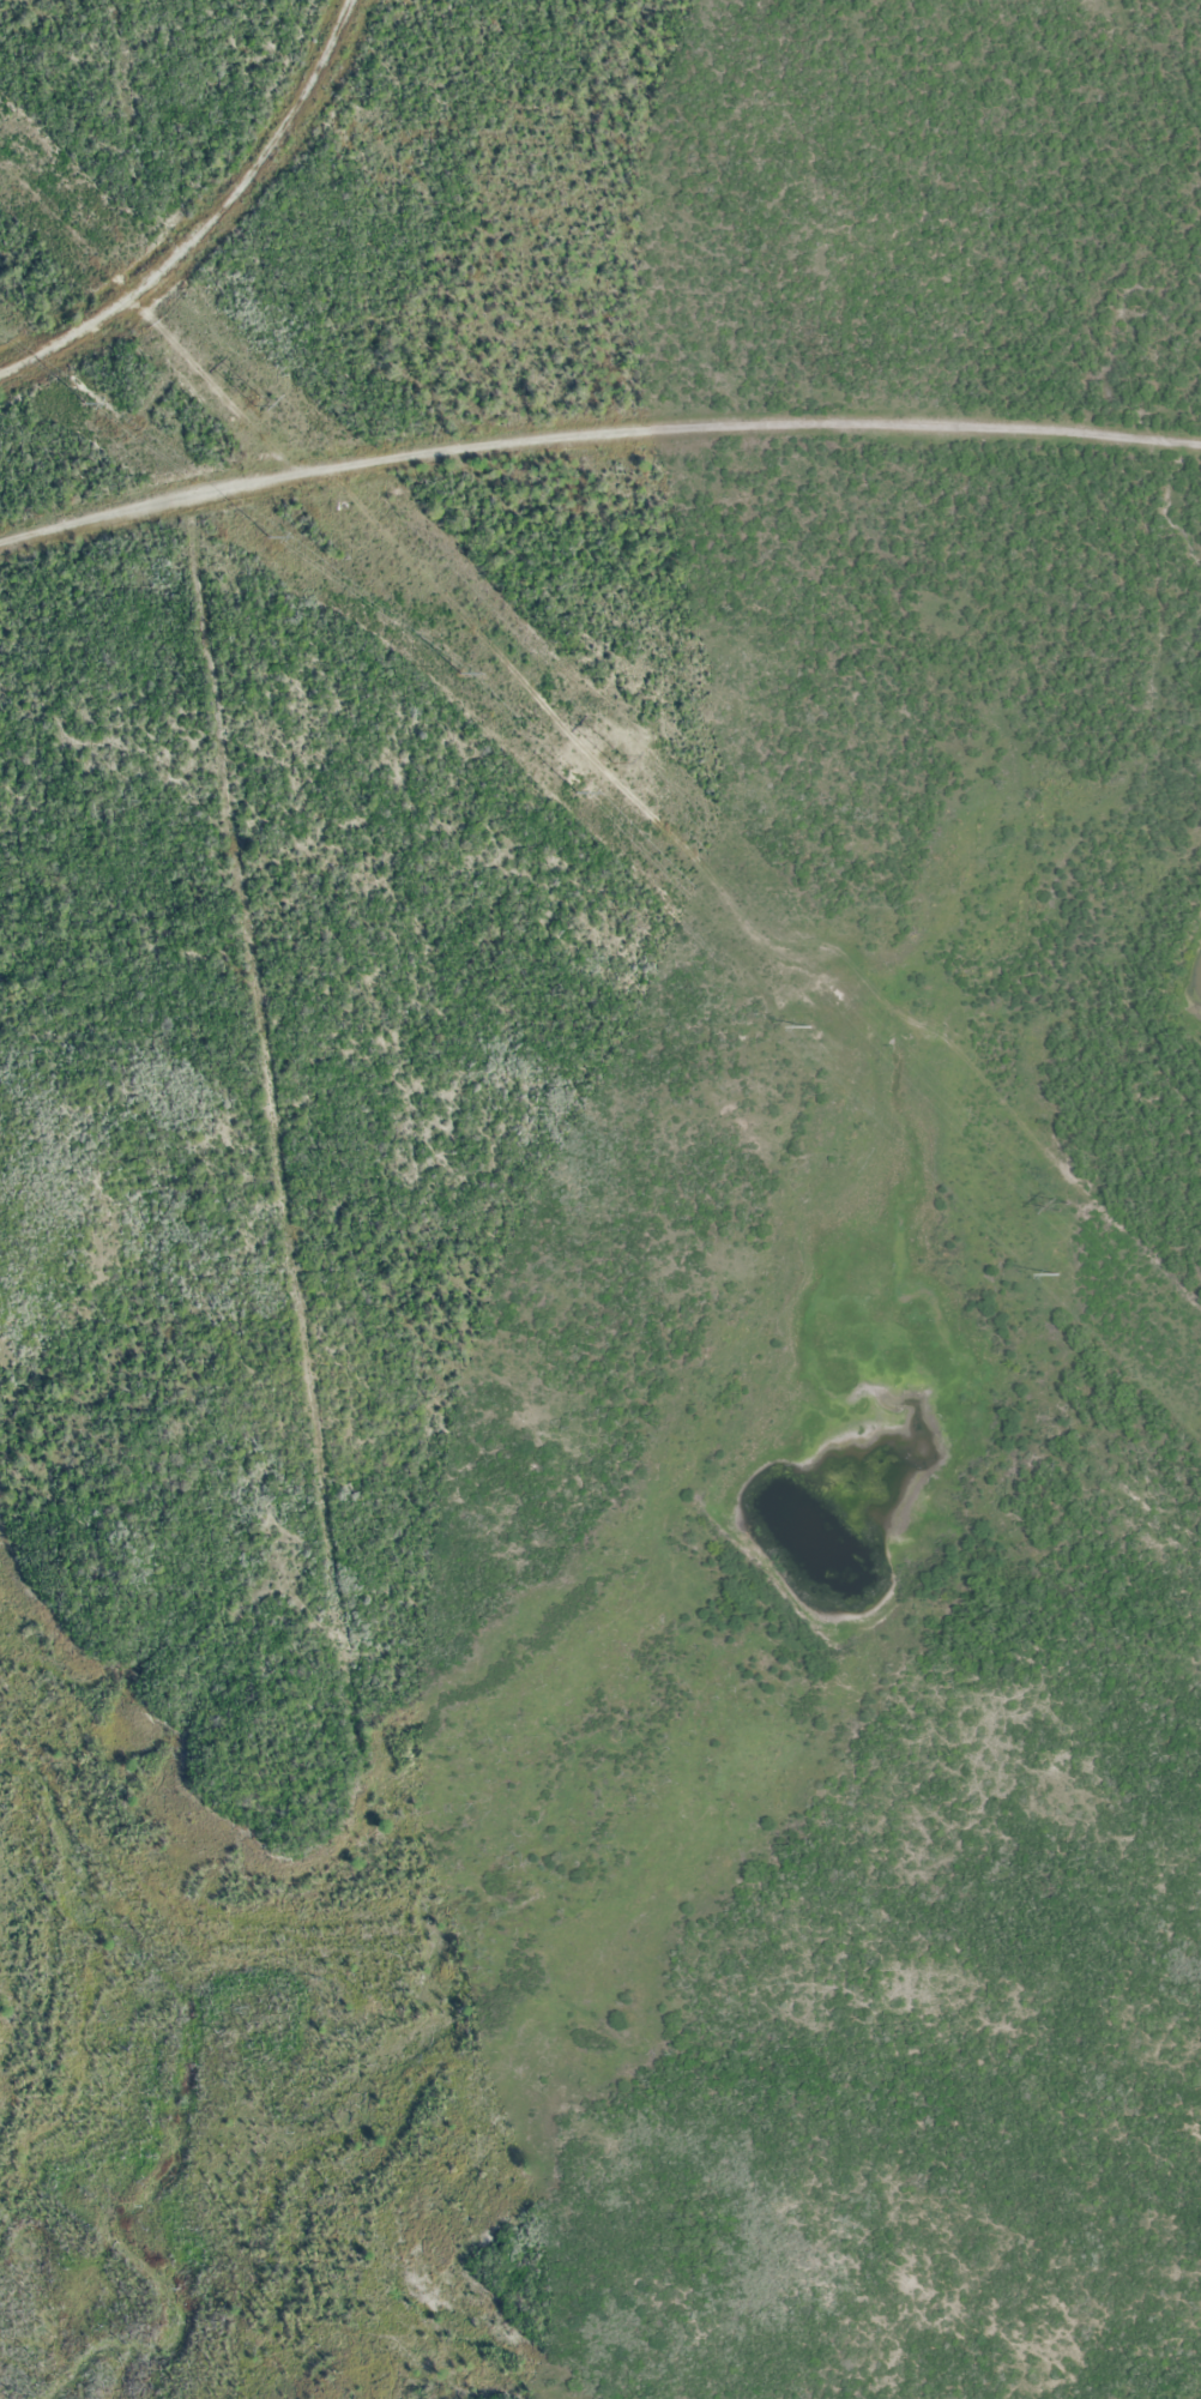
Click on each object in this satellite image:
road: (205, 209)
power tower: (257, 402)
power tower: (80, 403)
road: (596, 434)
power tower: (267, 537)
power tower: (458, 673)
power tower: (615, 759)
power tower: (574, 792)
power tower: (810, 1027)
power tower: (1064, 1206)
power tower: (1058, 1274)

